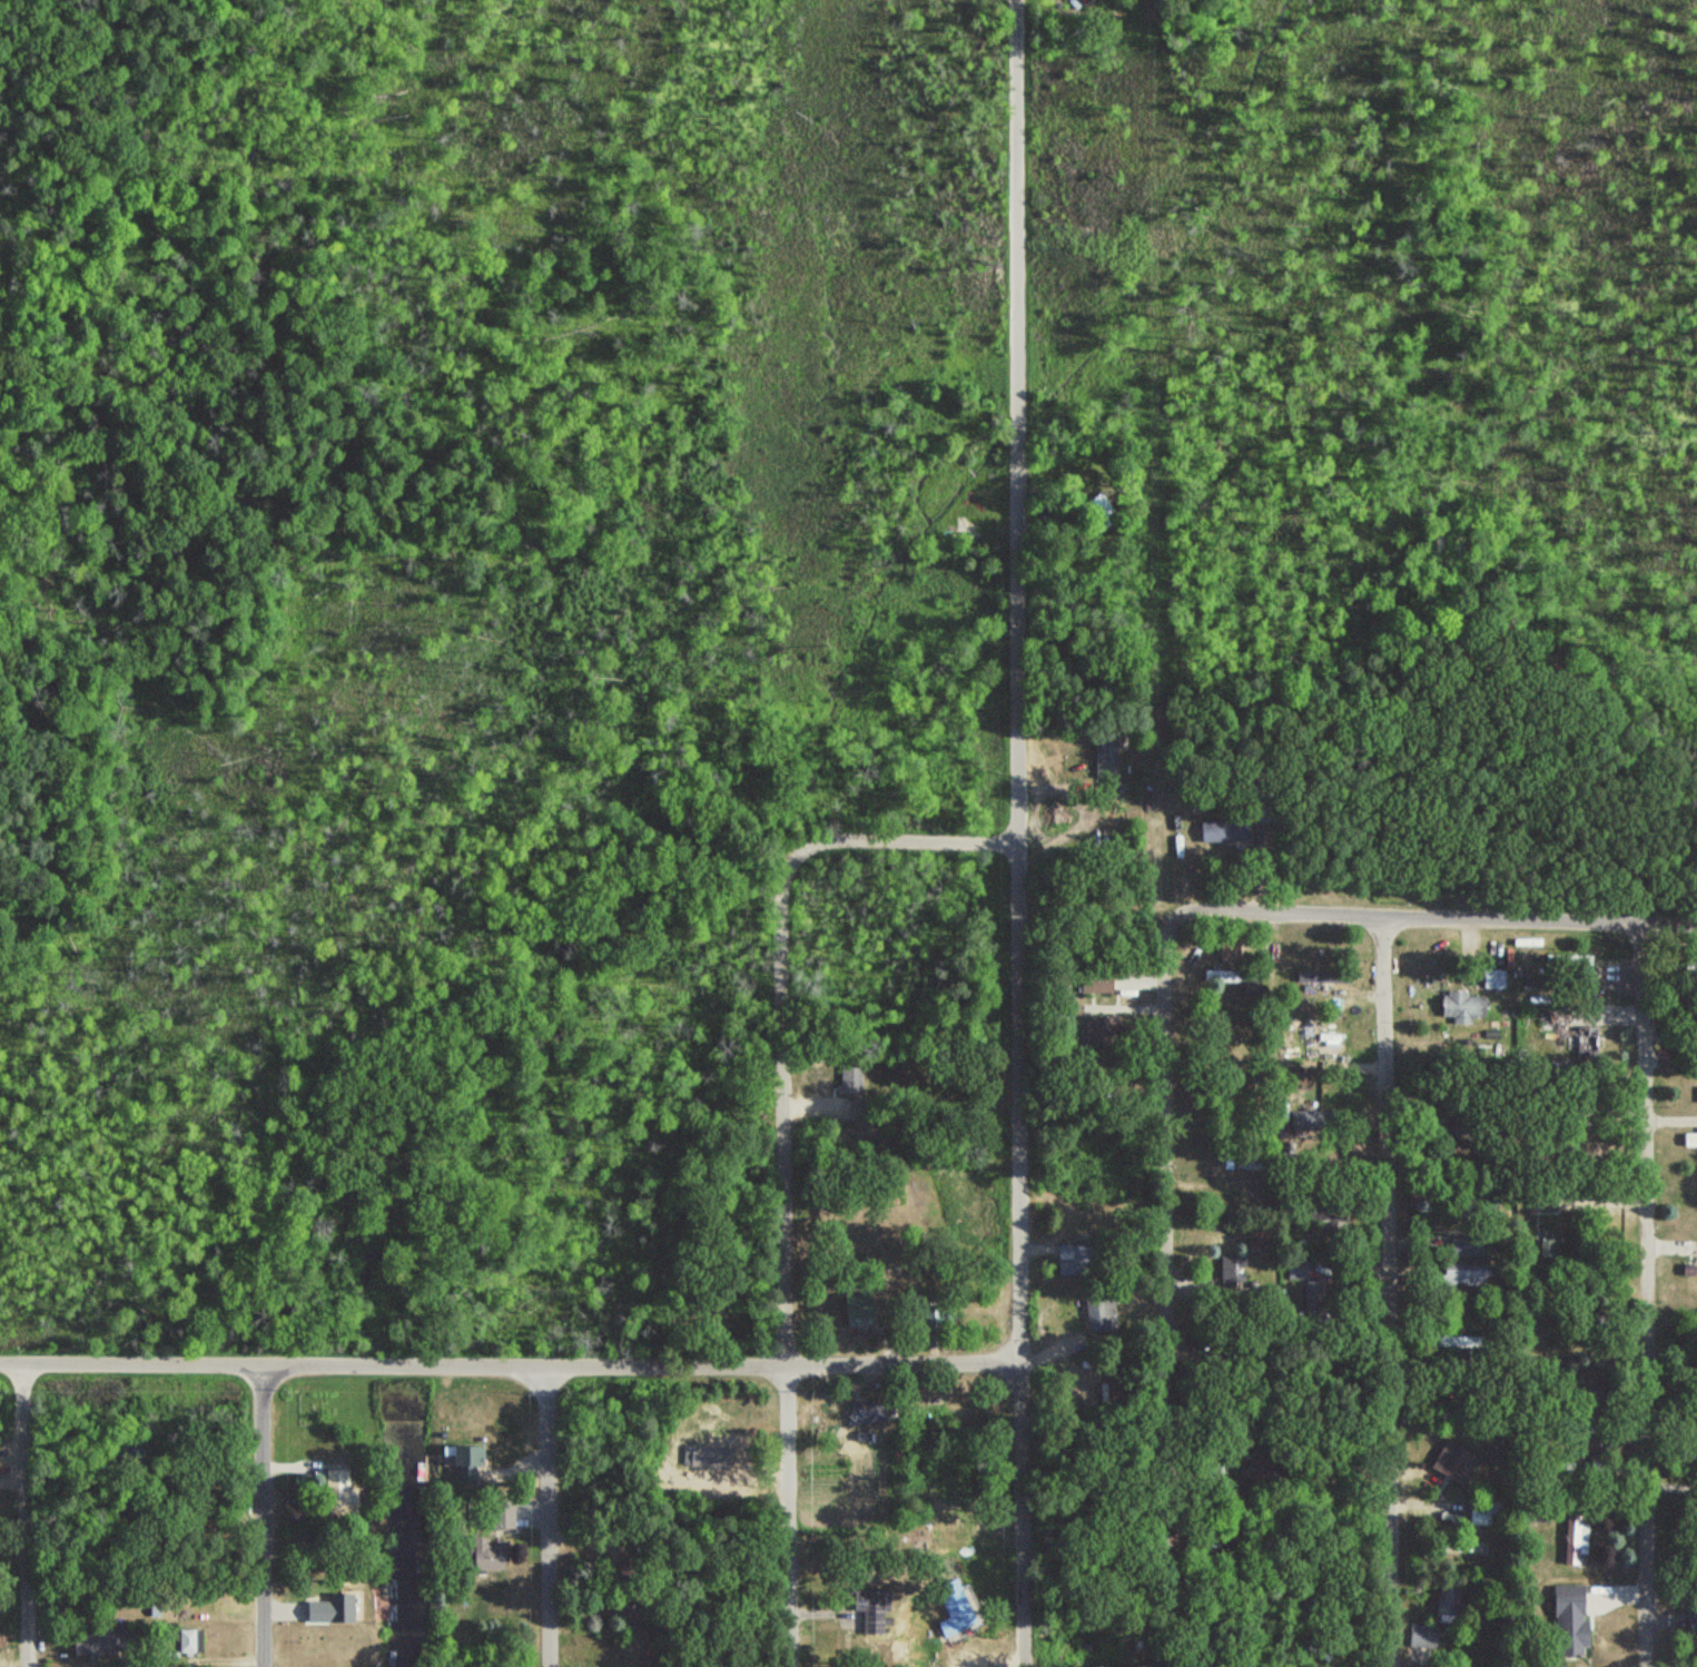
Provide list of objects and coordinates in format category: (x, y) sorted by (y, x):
building: (1109, 749)
building: (1225, 831)
road: (1015, 833)
road: (905, 837)
road: (1440, 914)
building: (1230, 951)
building: (1230, 967)
building: (1323, 968)
building: (1096, 986)
building: (1453, 1006)
building: (1552, 1023)
building: (852, 1082)
building: (1688, 1142)
building: (1241, 1153)
building: (1315, 1212)
building: (1460, 1246)
building: (1546, 1251)
road: (787, 1259)
building: (1069, 1260)
building: (1689, 1272)
building: (1466, 1275)
road: (1170, 1285)
building: (1311, 1288)
road: (1389, 1290)
road: (1645, 1292)
building: (856, 1310)
building: (1102, 1313)
road: (507, 1358)
building: (860, 1413)
building: (704, 1453)
building: (462, 1458)
building: (1269, 1458)
building: (1453, 1464)
building: (336, 1492)
building: (1231, 1502)
road: (265, 1512)
road: (22, 1513)
road: (552, 1513)
building: (501, 1517)
building: (1575, 1542)
building: (482, 1558)
building: (625, 1578)
building: (951, 1602)
building: (1450, 1606)
building: (325, 1611)
building: (1565, 1621)
building: (1424, 1637)
building: (95, 1645)

